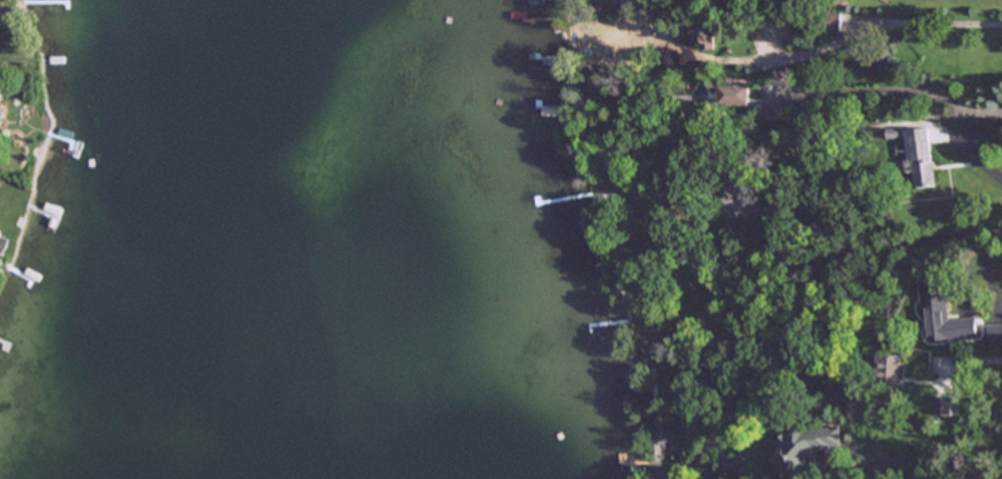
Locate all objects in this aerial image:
building: (701, 32)
road: (900, 32)
building: (1, 90)
building: (732, 94)
road: (957, 108)
building: (919, 156)
road: (999, 162)
building: (734, 196)
building: (941, 314)
building: (994, 333)
building: (890, 369)
road: (976, 372)
building: (942, 406)
building: (658, 434)
building: (803, 446)

